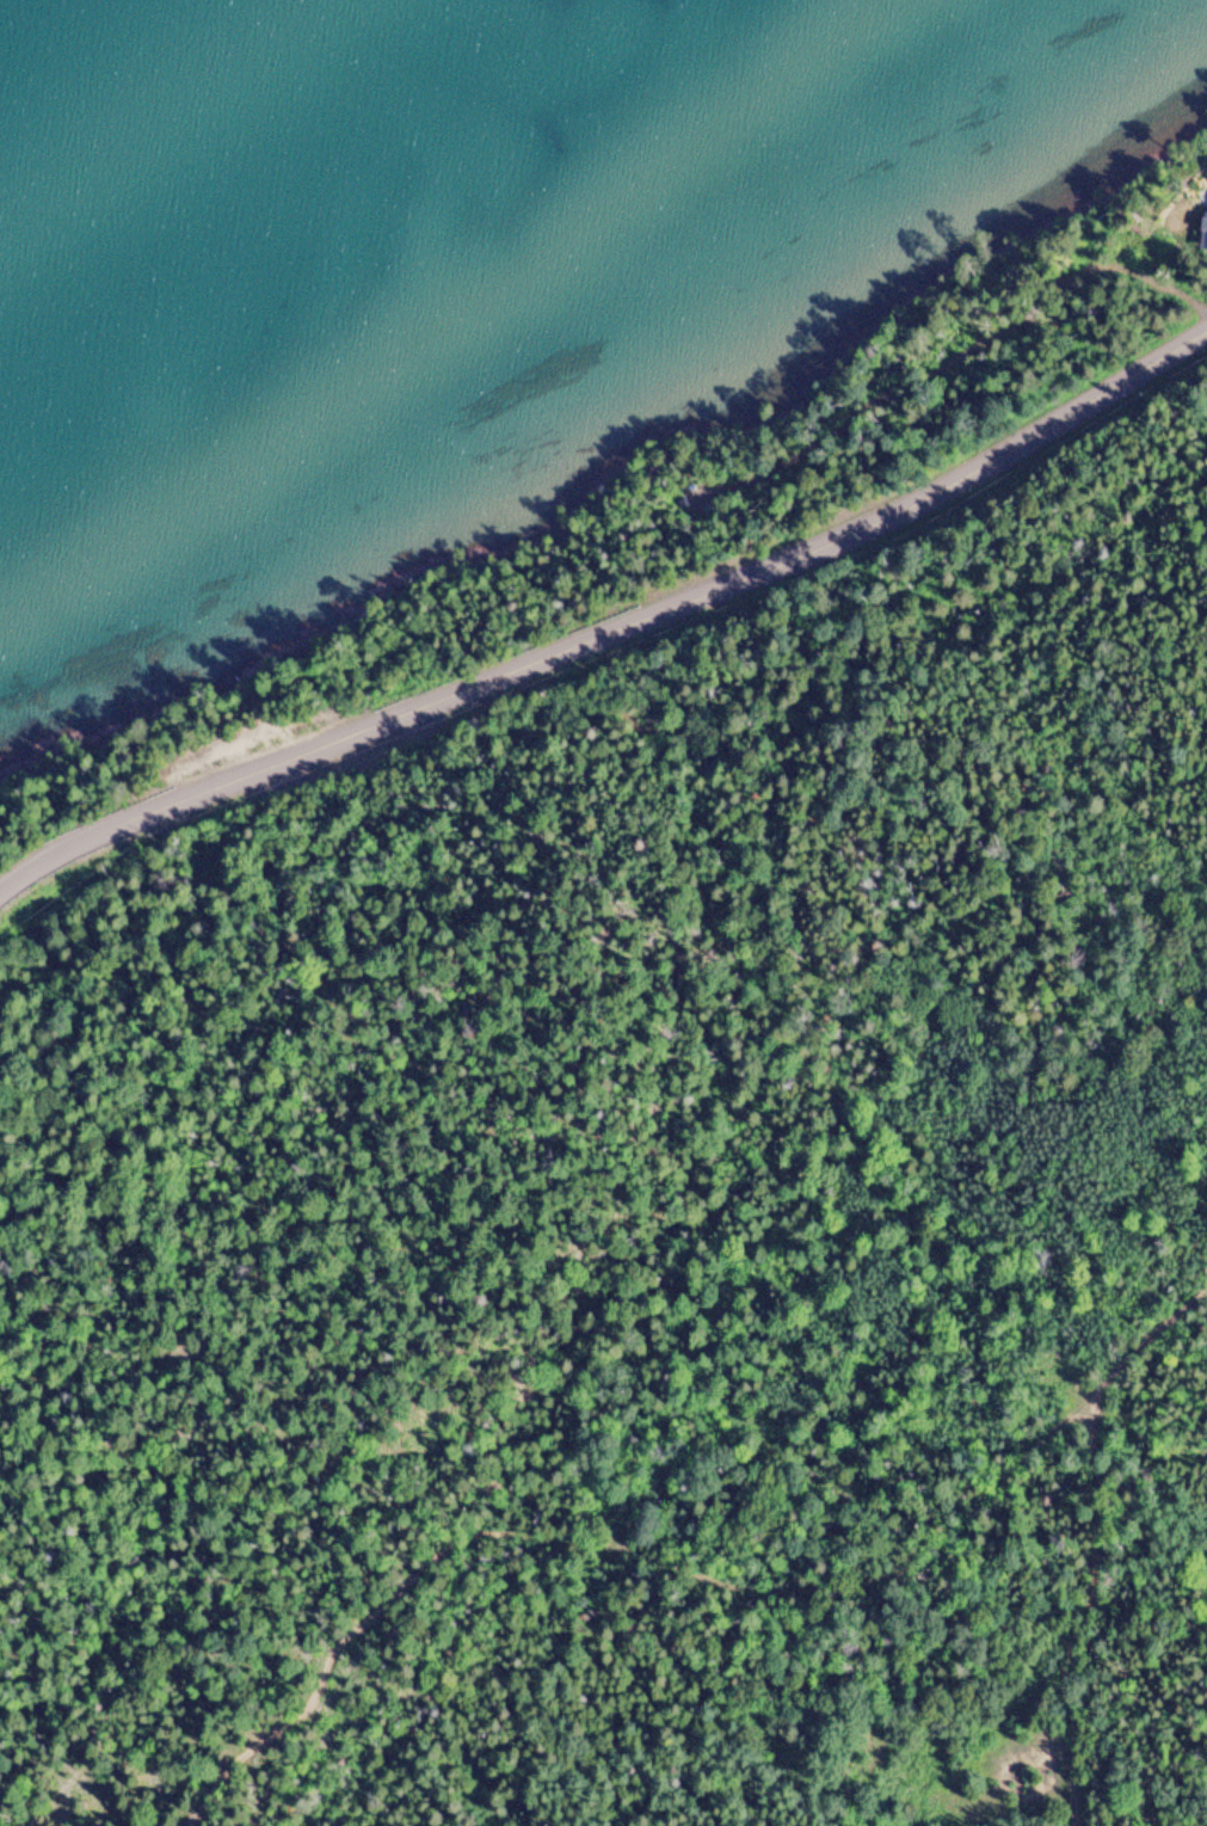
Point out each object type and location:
building: (1205, 238)
road: (610, 629)

